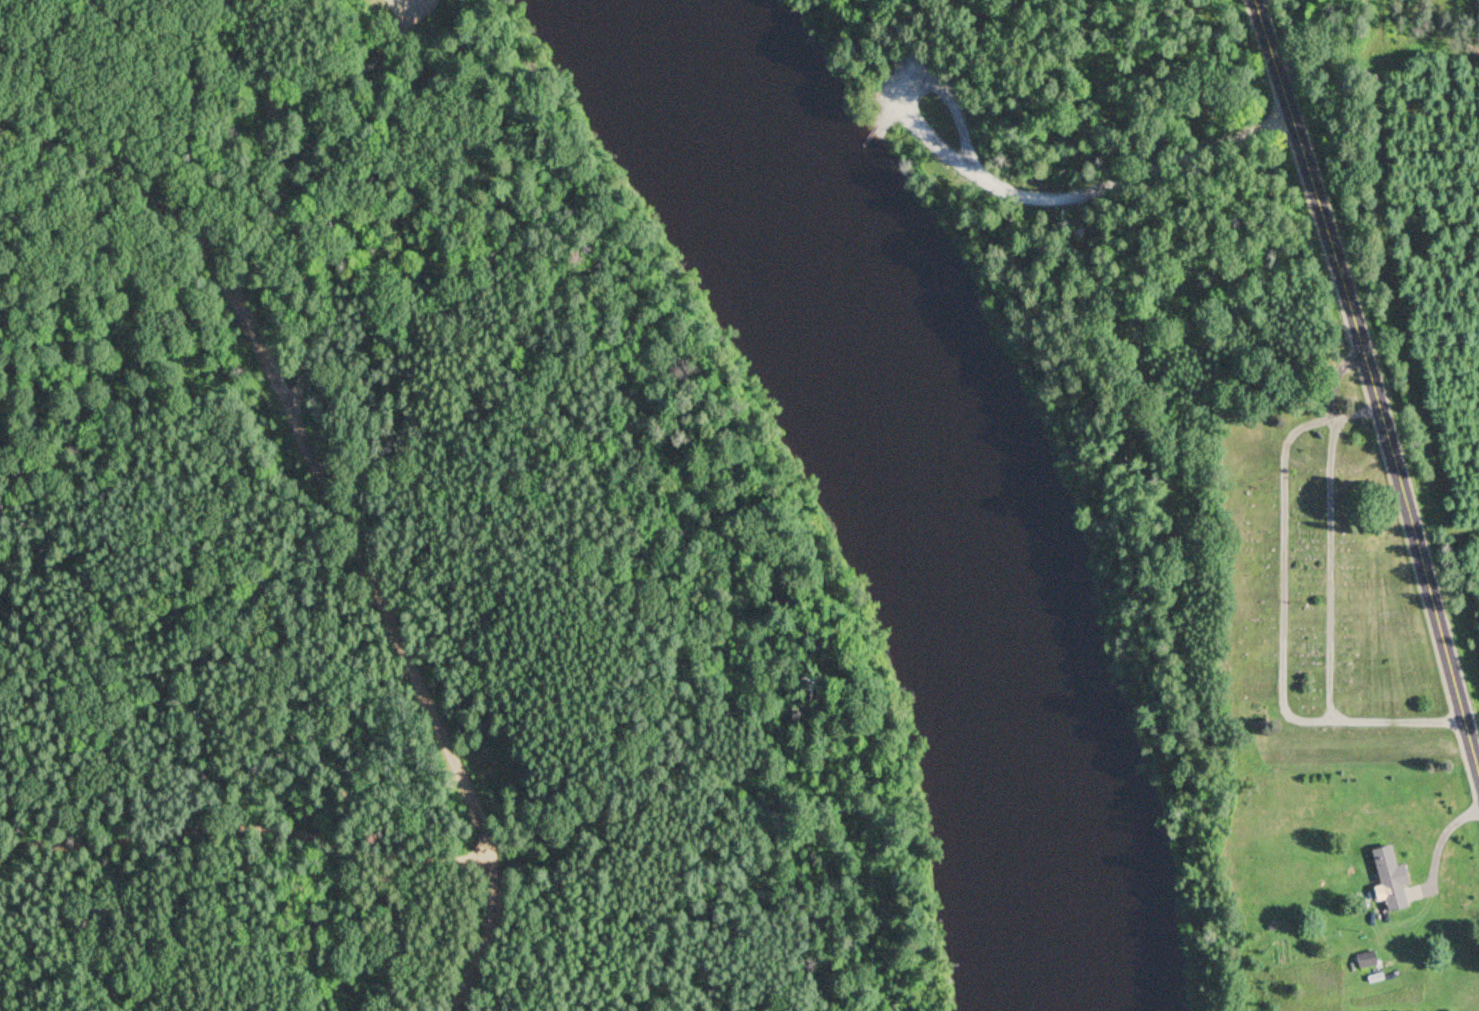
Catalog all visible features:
park: (1002, 33)
road: (249, 66)
road: (930, 83)
road: (269, 163)
road: (1080, 196)
road: (1370, 387)
river: (888, 487)
road: (337, 511)
park: (394, 557)
park: (1309, 585)
road: (246, 829)
building: (1385, 877)

